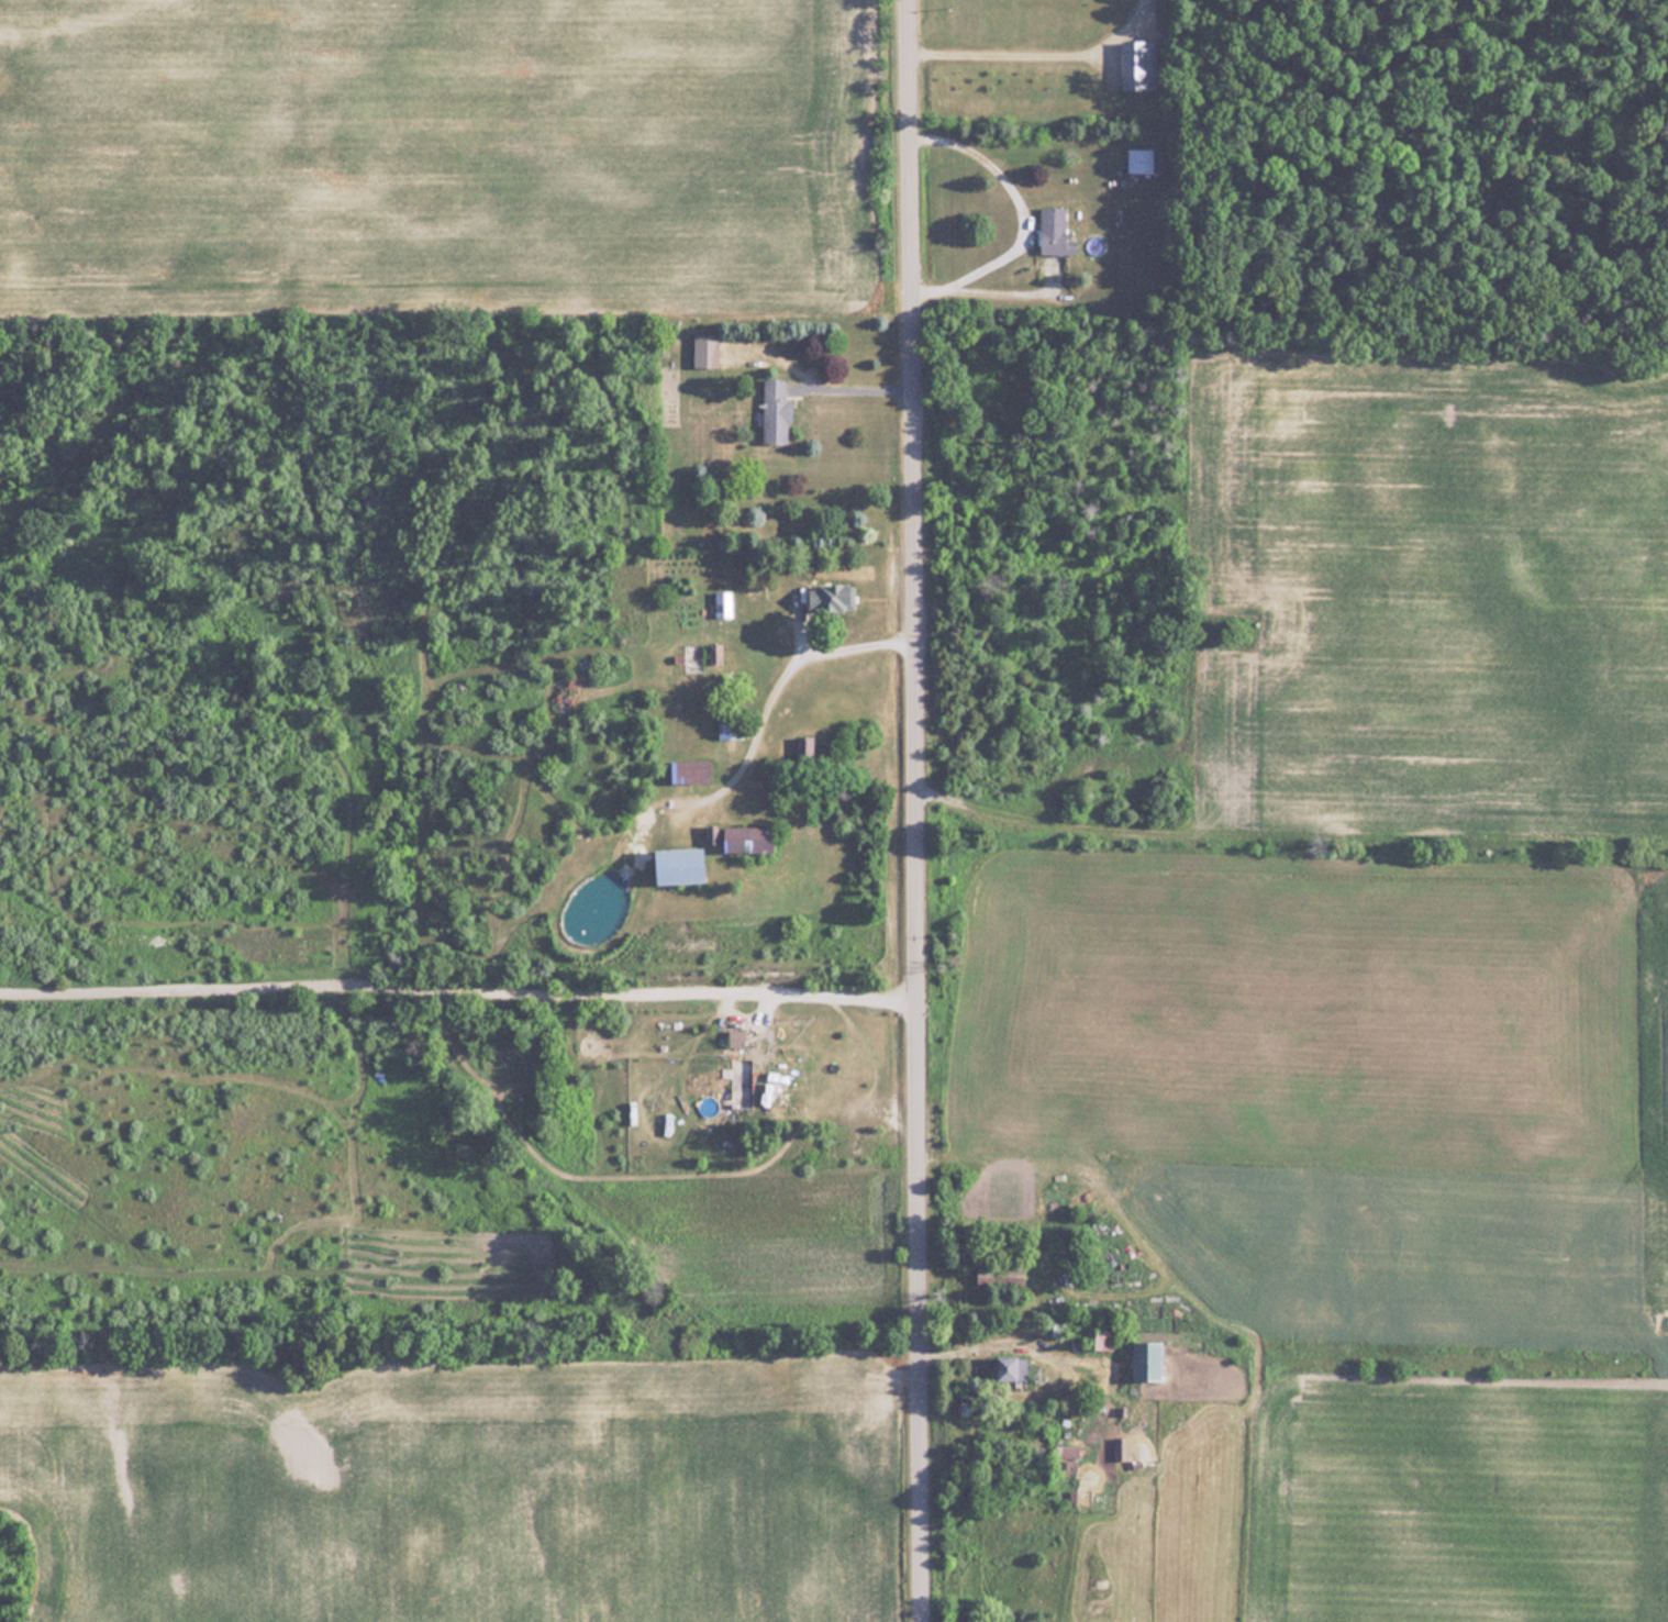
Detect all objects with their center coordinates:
building: (1138, 65)
building: (1139, 159)
road: (1022, 214)
building: (1056, 232)
building: (707, 351)
road: (853, 388)
building: (777, 412)
building: (832, 597)
building: (723, 603)
building: (731, 731)
building: (807, 749)
road: (916, 810)
building: (752, 837)
building: (685, 864)
road: (459, 975)
building: (743, 1080)
building: (1002, 1275)
building: (1101, 1337)
building: (1149, 1358)
building: (1012, 1367)
building: (1067, 1449)
building: (1121, 1451)

